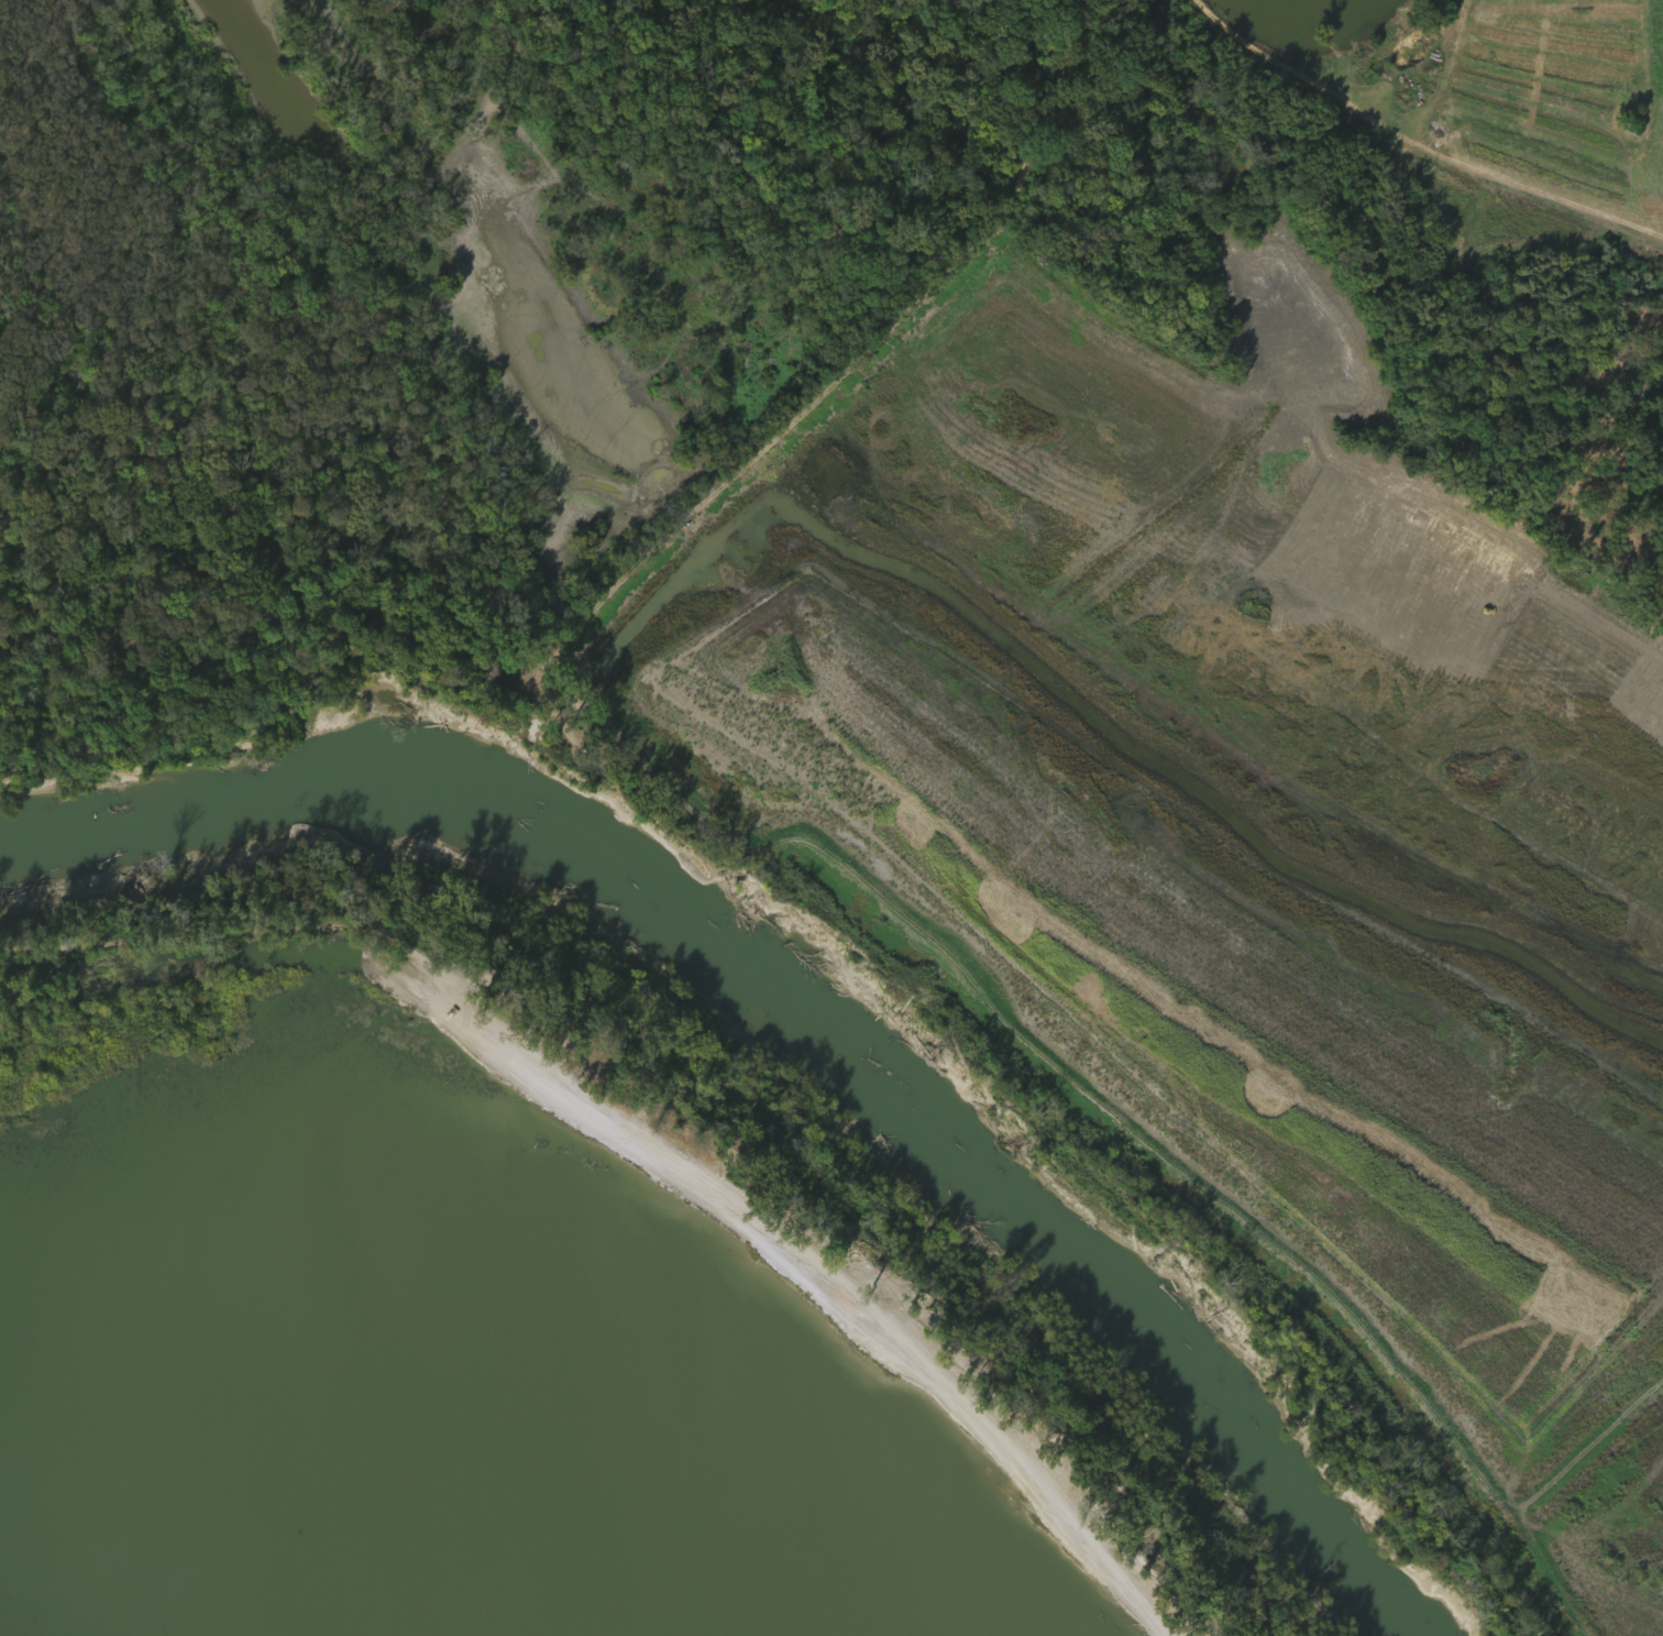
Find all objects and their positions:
river: (792, 1013)

